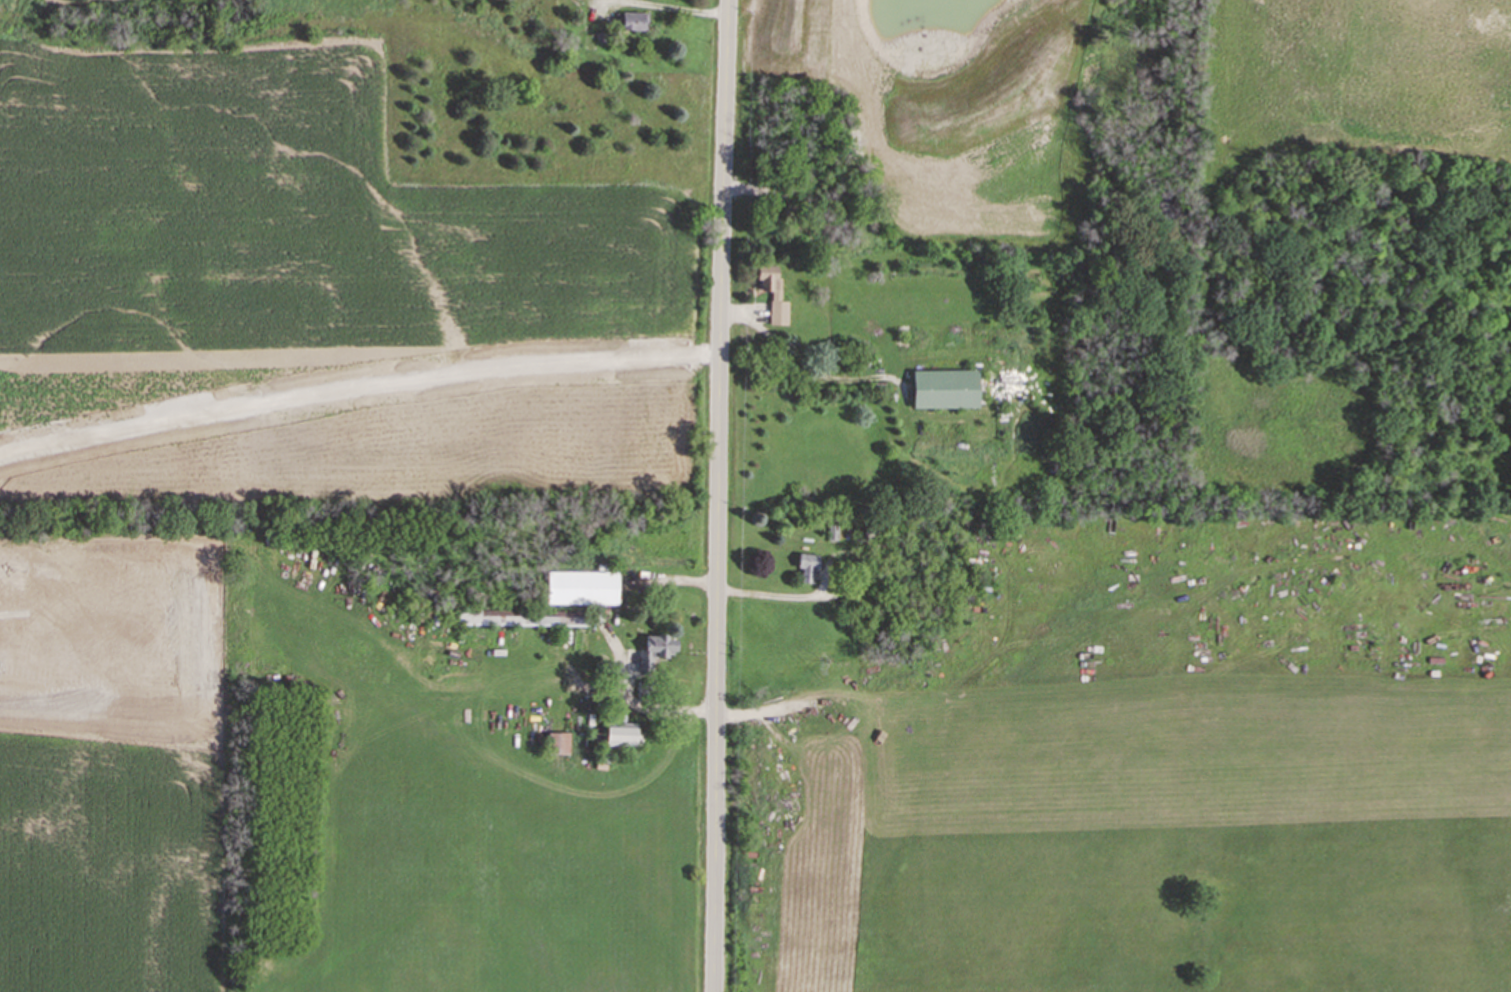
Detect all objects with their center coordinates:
road: (664, 7)
building: (629, 20)
crop: (1363, 87)
crop: (317, 289)
building: (772, 293)
road: (799, 359)
building: (943, 388)
road: (717, 495)
building: (806, 566)
building: (581, 587)
road: (838, 594)
building: (654, 650)
road: (650, 702)
building: (619, 733)
quarry: (120, 734)
building: (557, 743)
crop: (109, 867)

